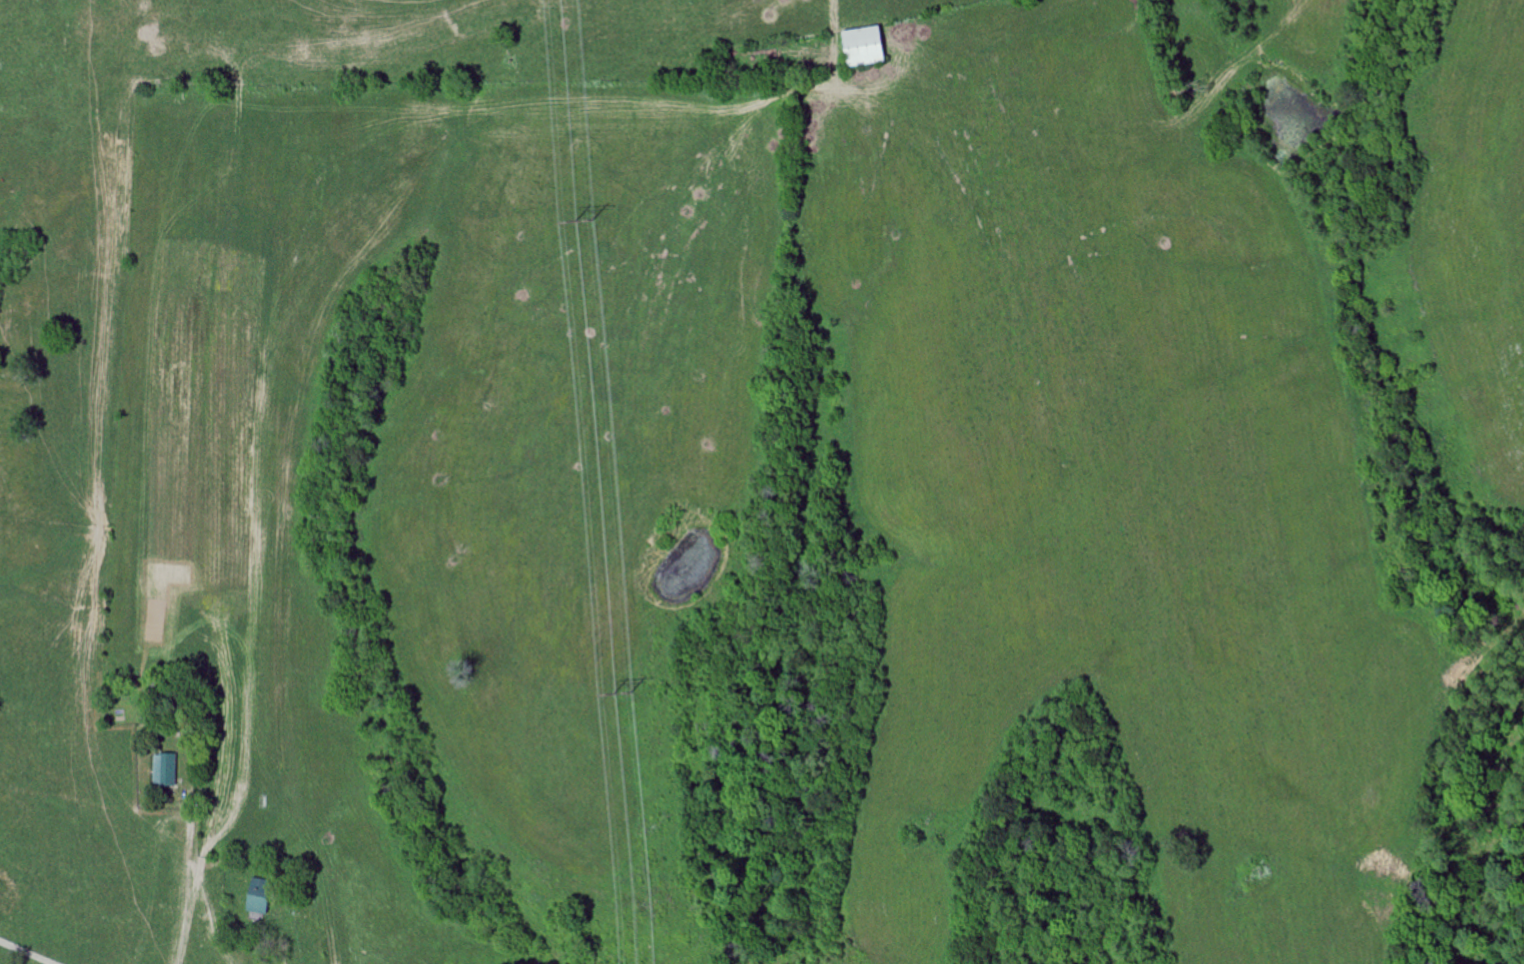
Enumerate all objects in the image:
building: (867, 47)
power tower: (582, 218)
power tower: (621, 692)
building: (166, 770)
building: (260, 897)
road: (28, 952)

